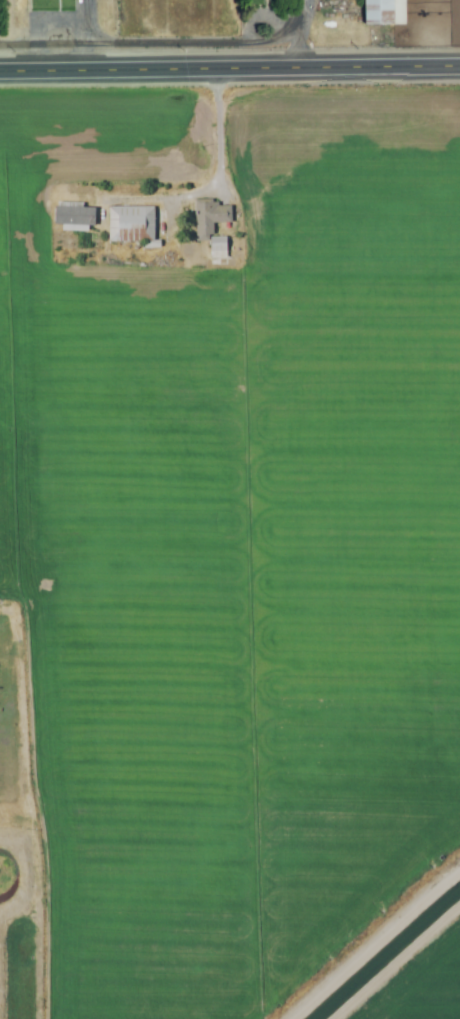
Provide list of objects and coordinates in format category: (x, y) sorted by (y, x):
building: (385, 13)
road: (299, 33)
road: (230, 66)
road: (215, 176)
building: (72, 215)
building: (130, 225)
building: (211, 227)
road: (395, 963)

